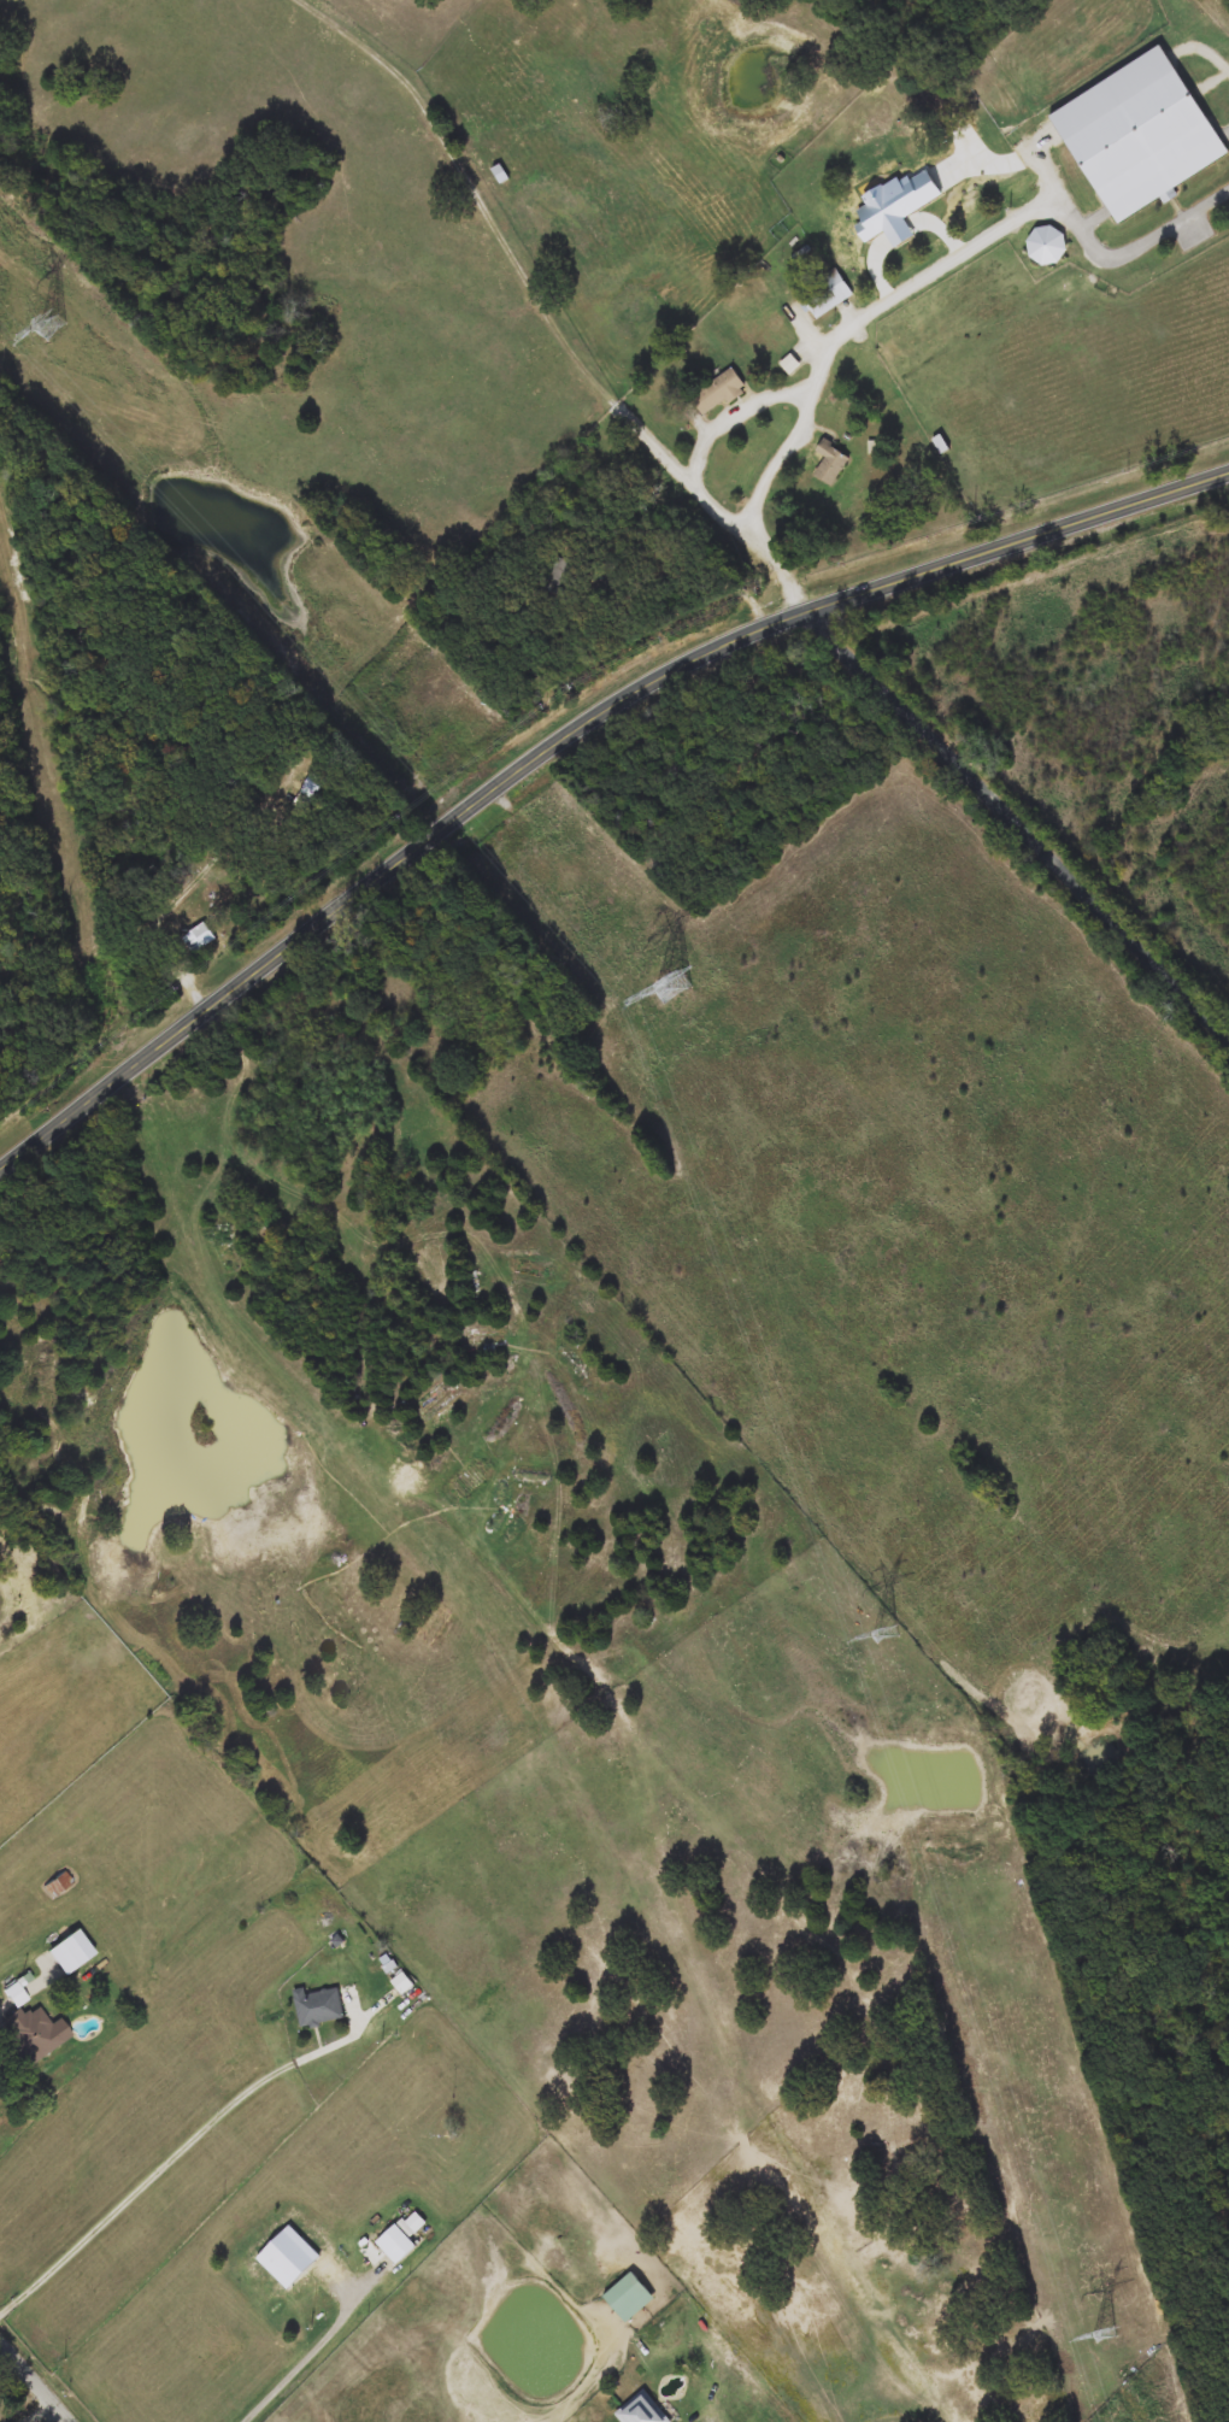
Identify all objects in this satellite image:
building: (1146, 148)
road: (1031, 213)
building: (916, 235)
building: (1048, 245)
road: (548, 307)
power tower: (51, 325)
building: (718, 393)
road: (711, 428)
road: (787, 441)
building: (830, 463)
road: (708, 572)
road: (474, 688)
road: (564, 731)
road: (1017, 819)
building: (199, 937)
road: (181, 970)
power tower: (670, 988)
power tower: (888, 1635)
building: (59, 1885)
road: (1, 2003)
building: (321, 2006)
building: (28, 2029)
road: (183, 2152)
building: (396, 2245)
building: (280, 2270)
building: (629, 2298)
power tower: (1104, 2334)
road: (310, 2365)
road: (37, 2379)
building: (642, 2410)
road: (42, 2412)

